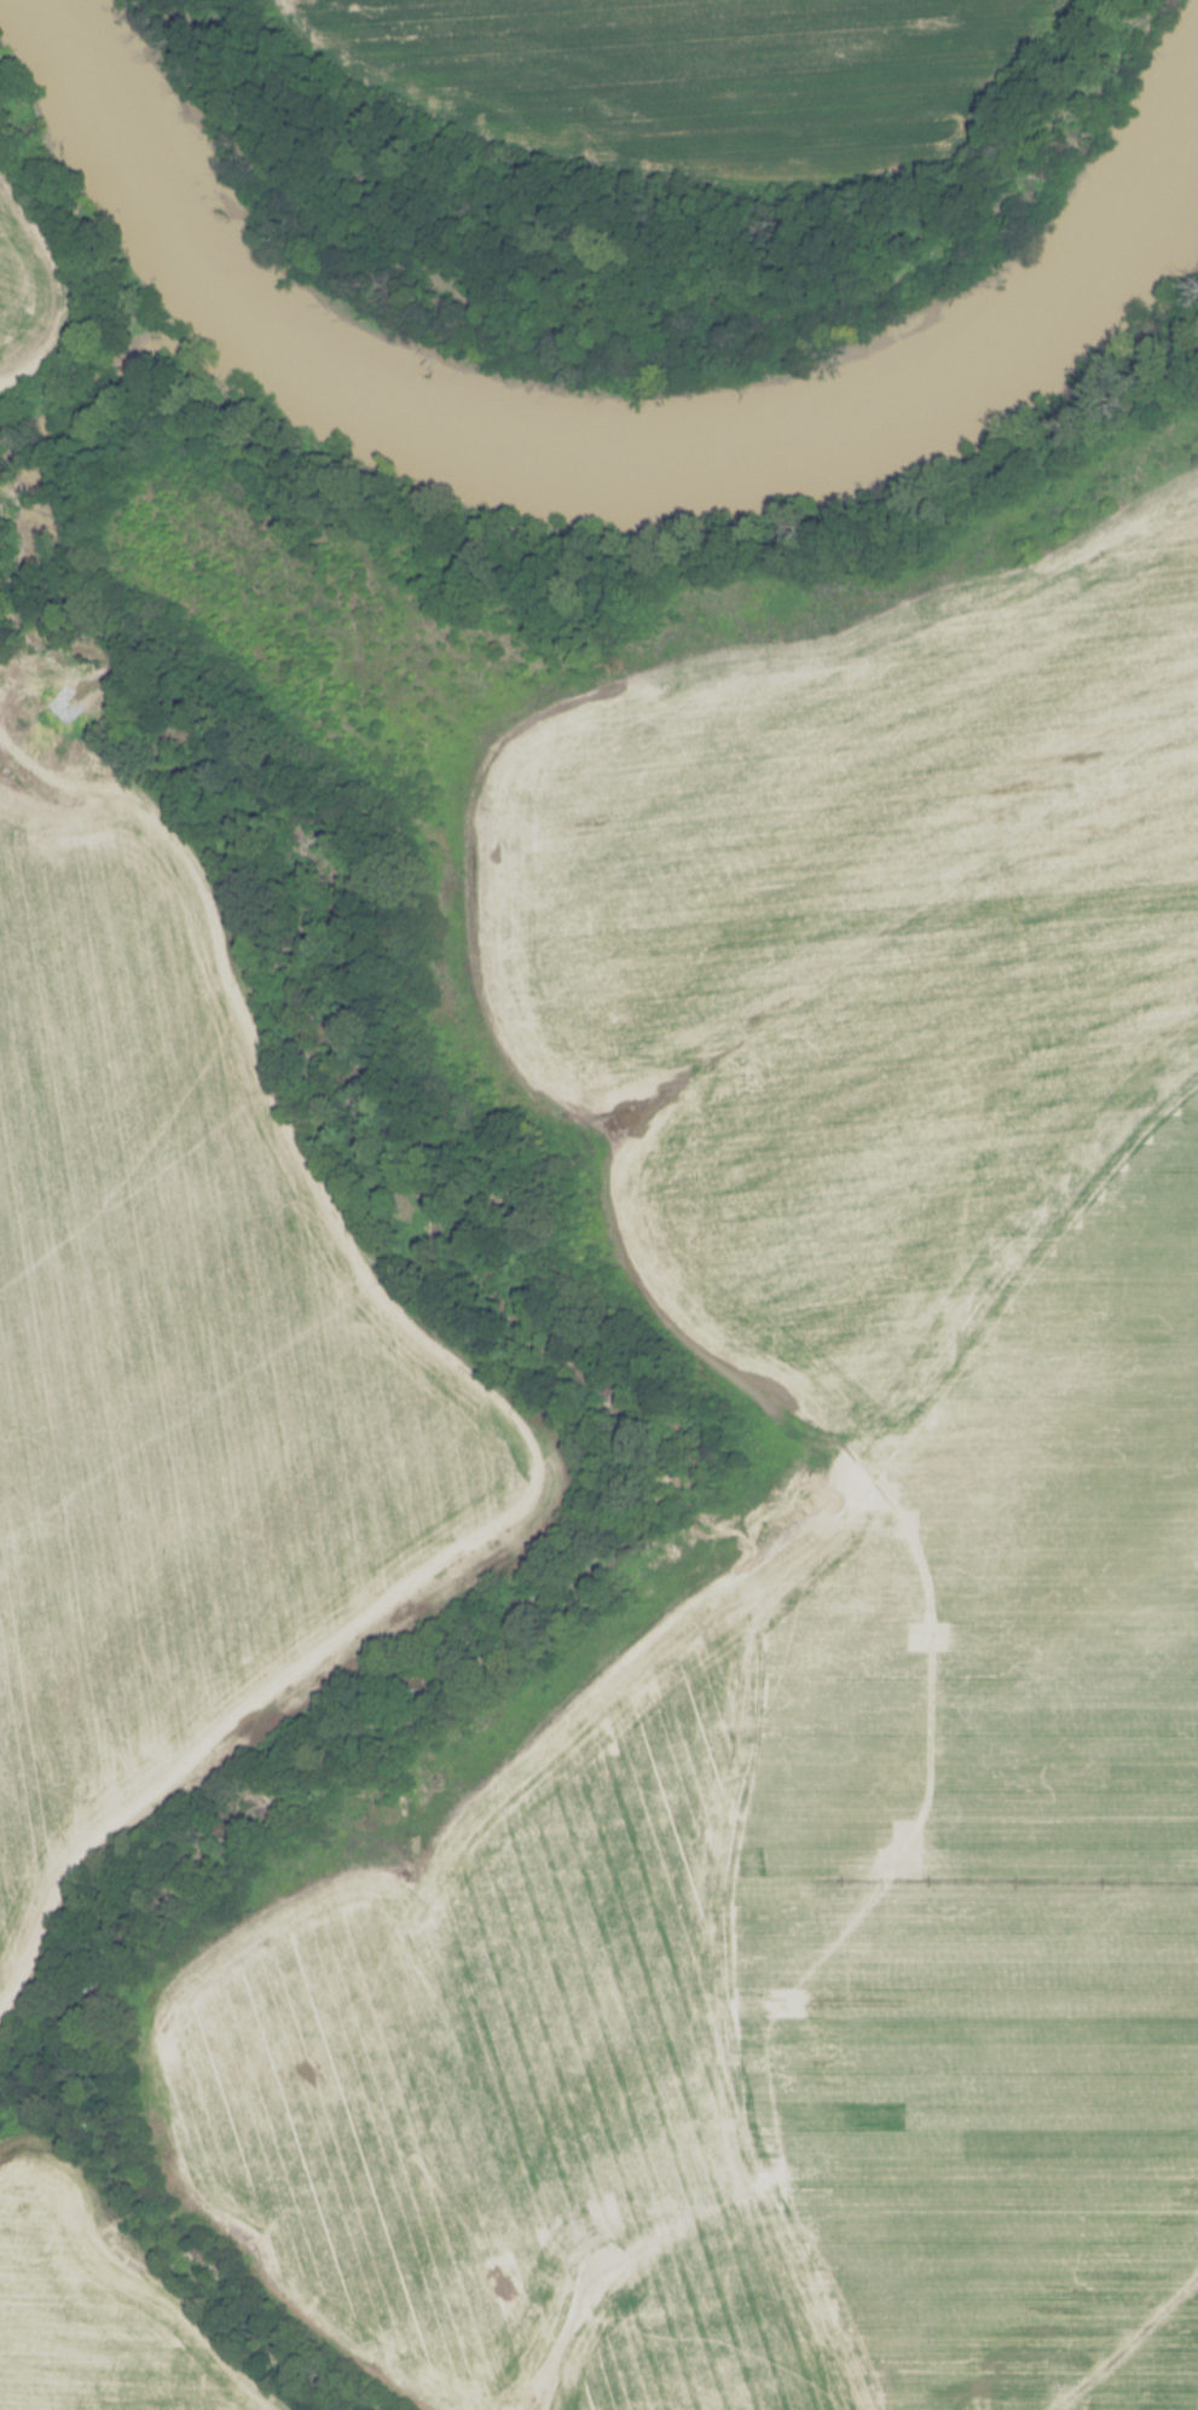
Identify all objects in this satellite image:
river: (588, 448)

